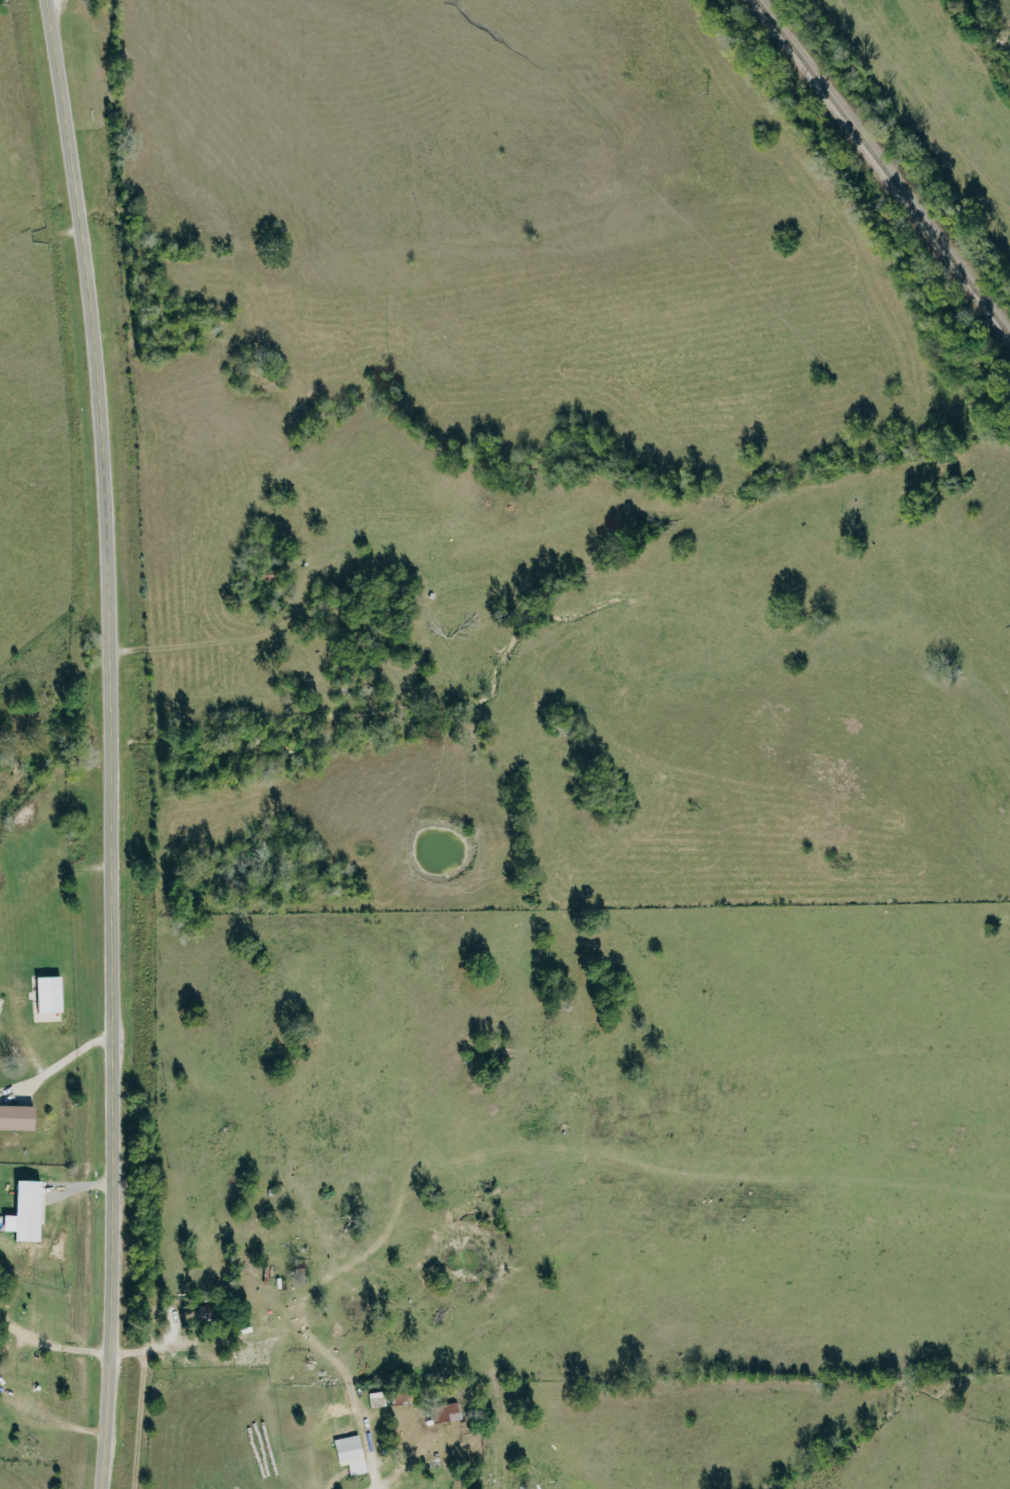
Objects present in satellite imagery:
railway: (880, 171)
road: (109, 742)
building: (46, 998)
building: (15, 1117)
building: (23, 1212)
building: (444, 1412)
building: (31, 1450)
building: (349, 1453)

